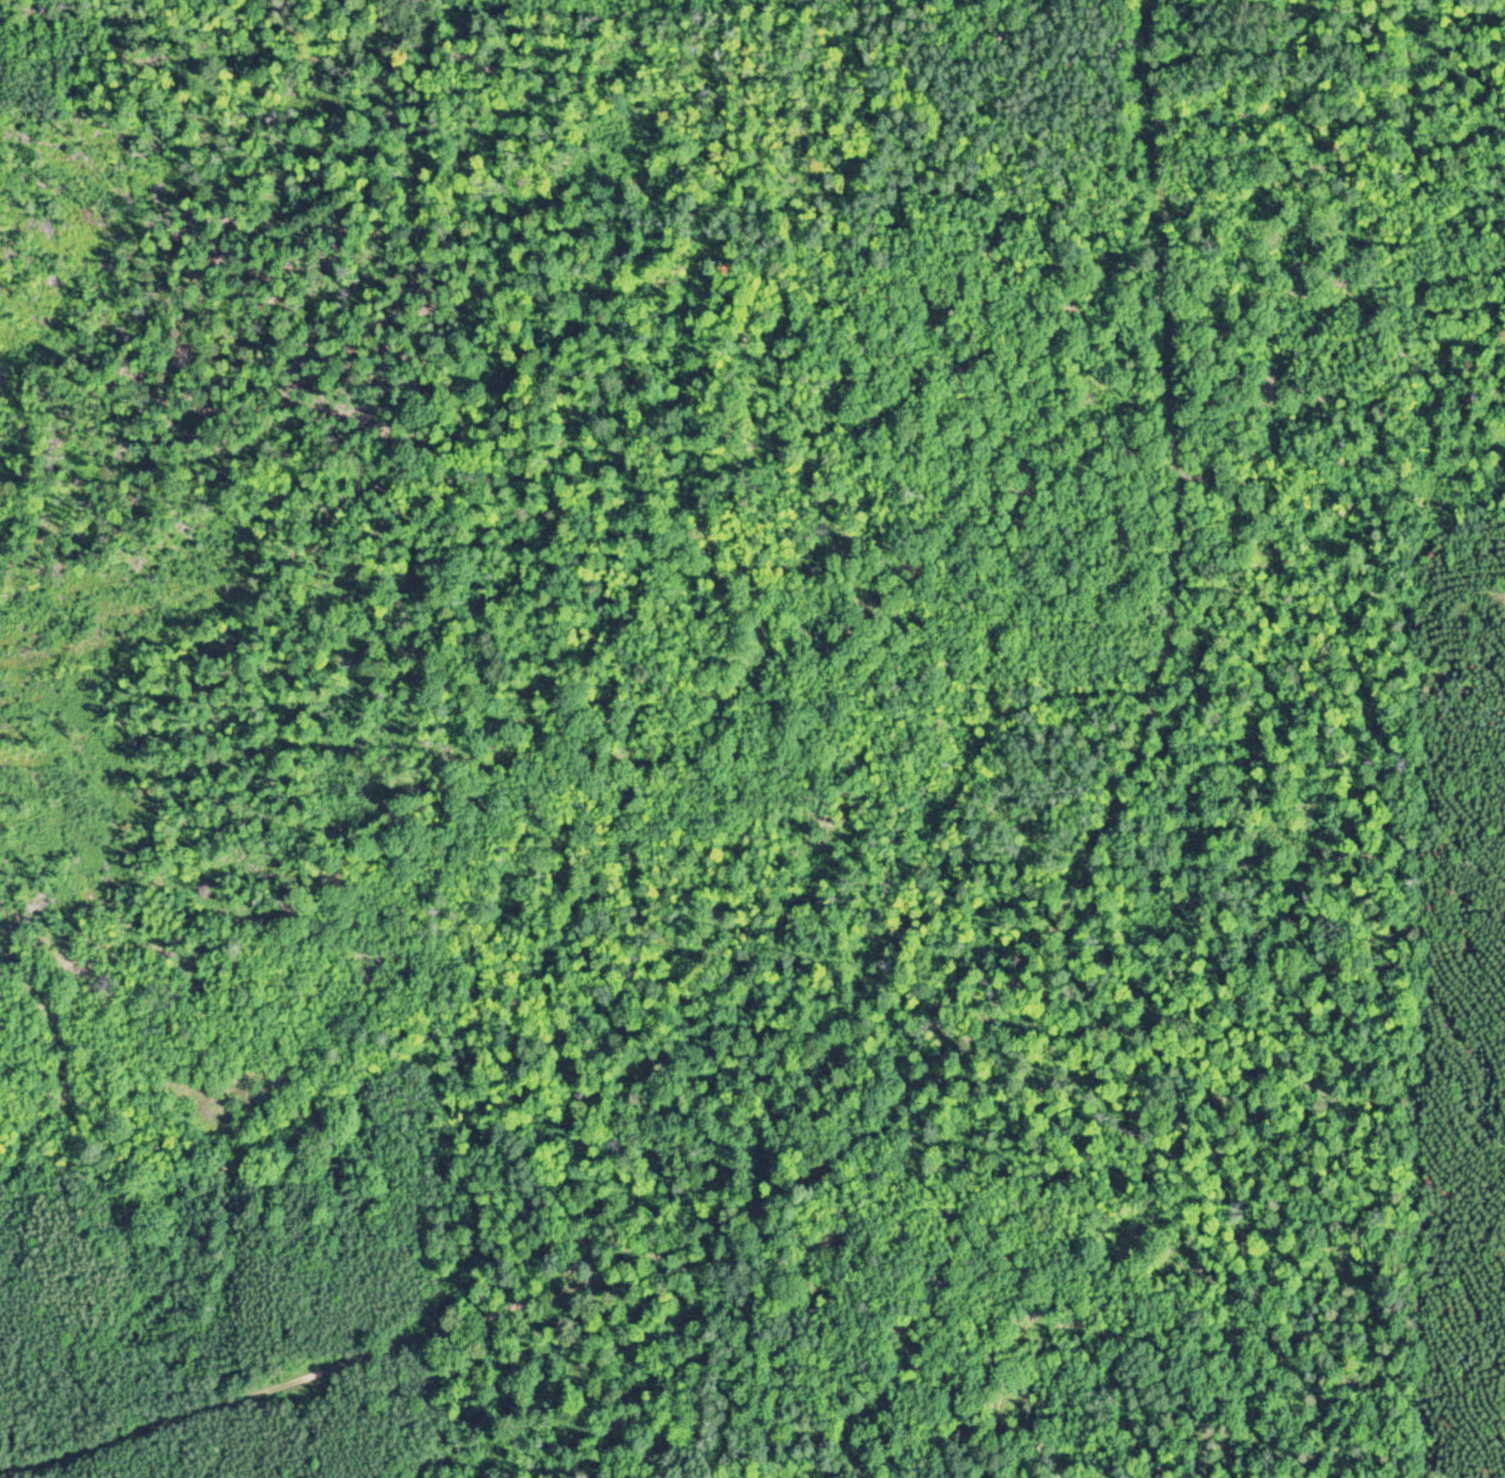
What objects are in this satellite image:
road: (969, 1029)

